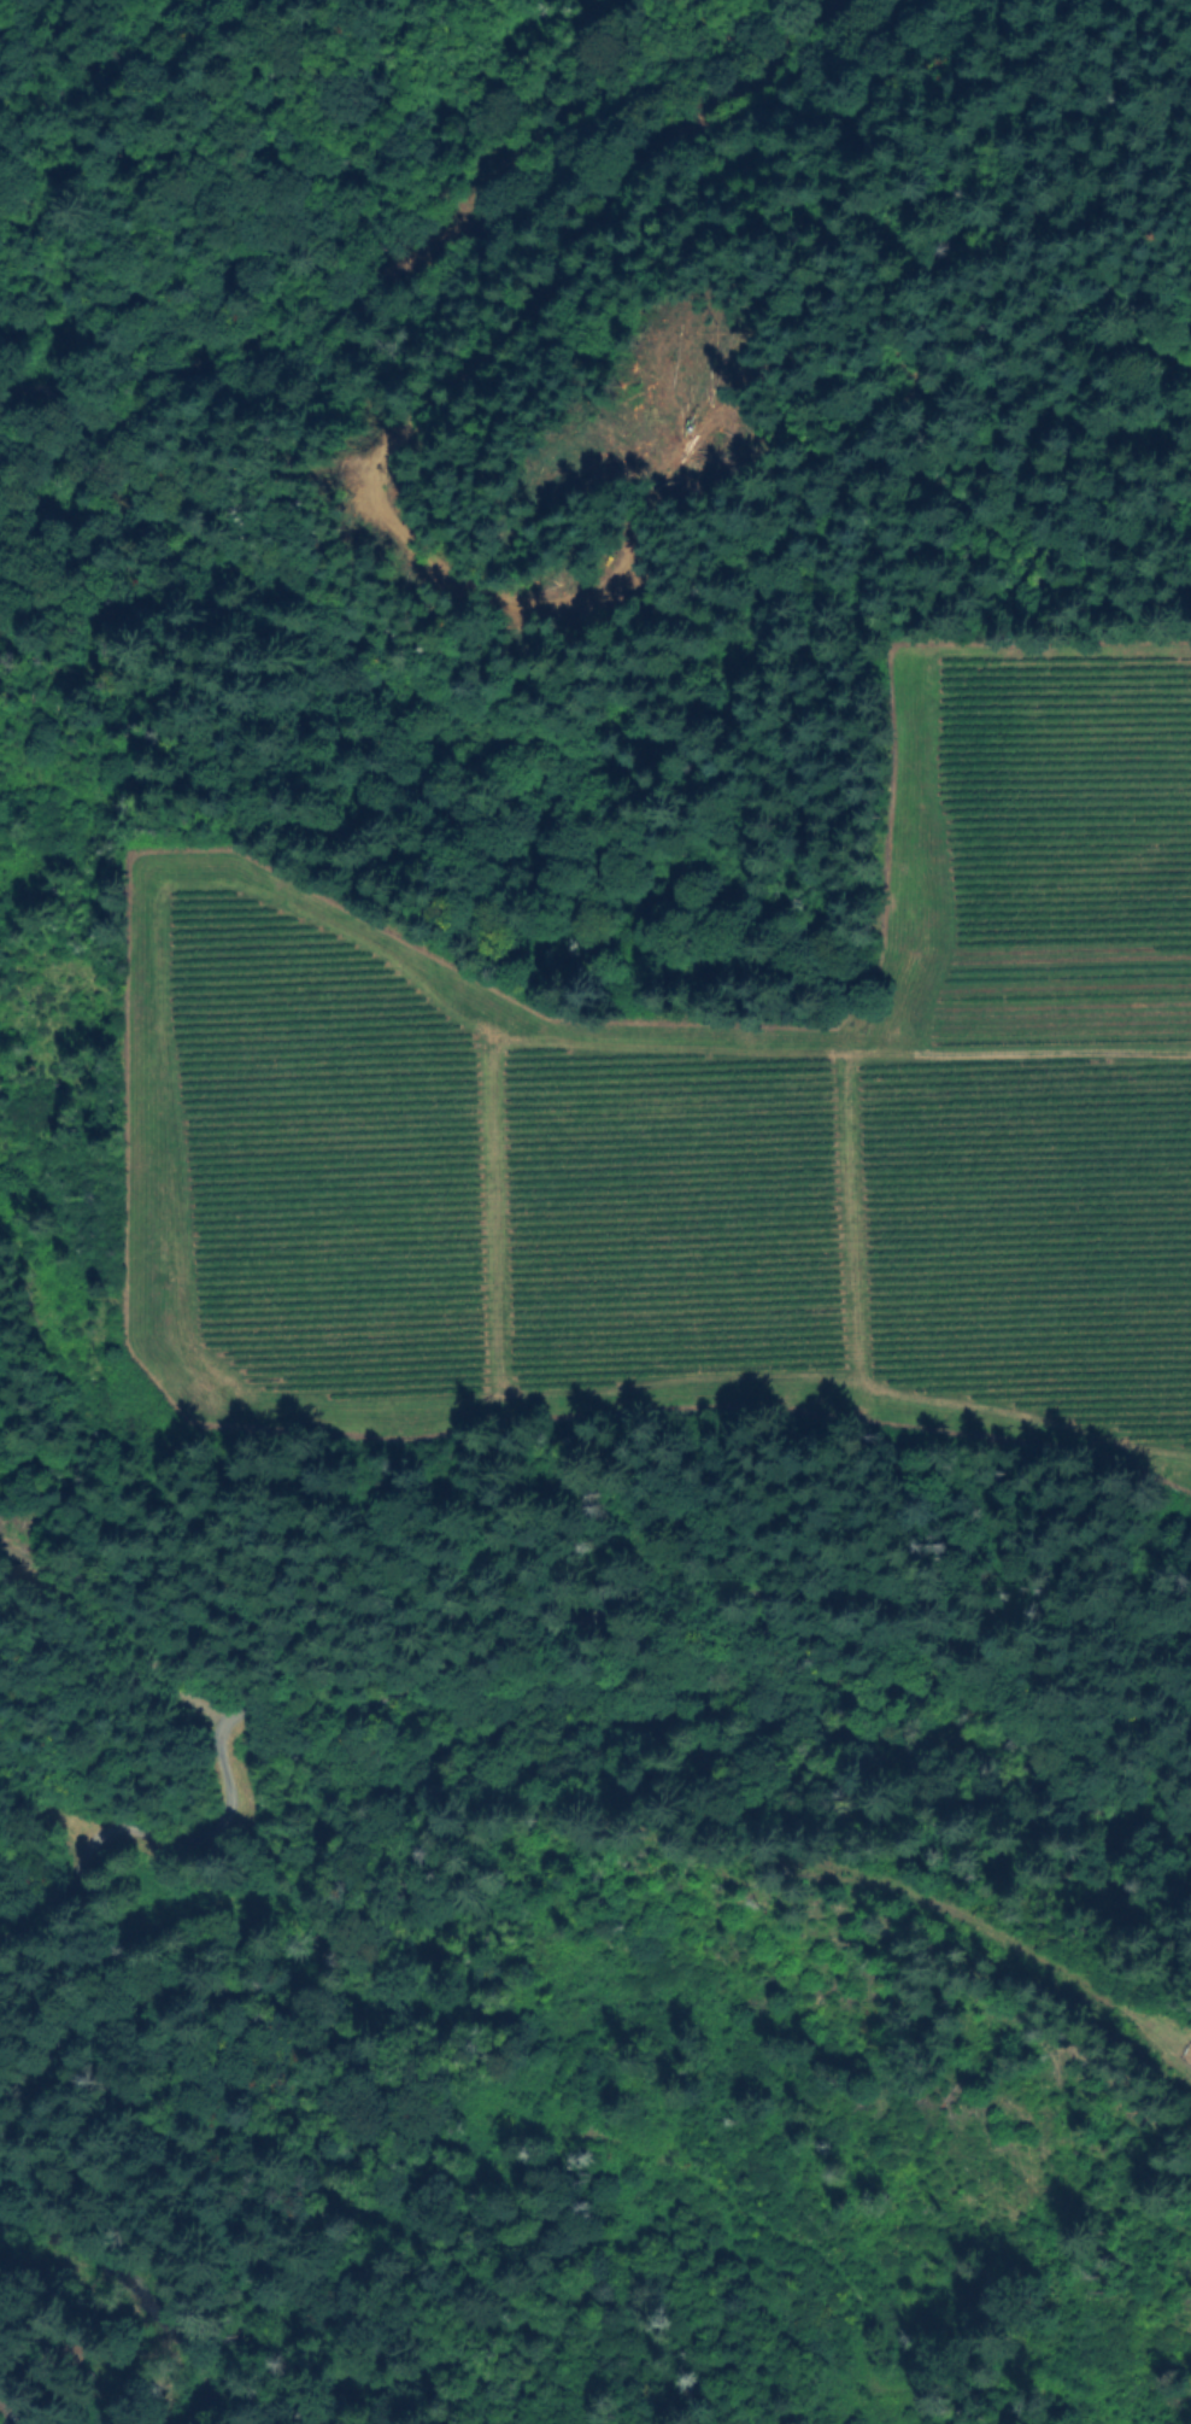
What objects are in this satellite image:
road: (568, 1644)

